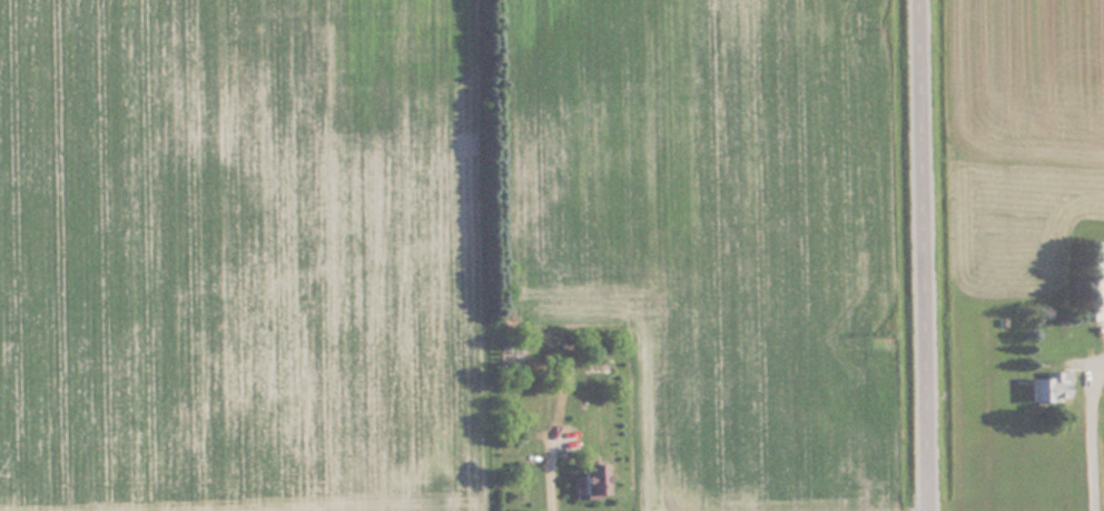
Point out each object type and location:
road: (933, 255)
building: (1095, 280)
building: (1047, 388)
building: (592, 480)

